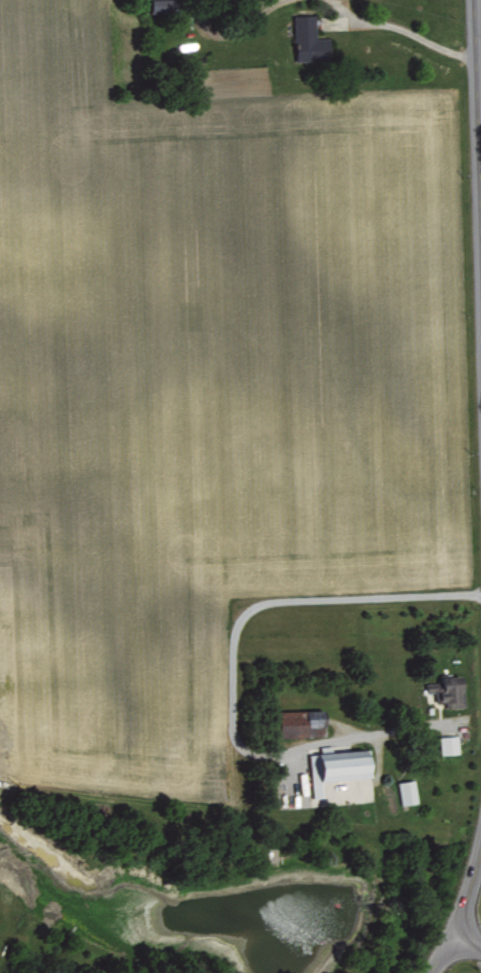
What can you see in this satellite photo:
building: (163, 5)
road: (406, 29)
building: (309, 39)
road: (477, 40)
road: (476, 279)
road: (480, 524)
road: (230, 671)
building: (448, 690)
building: (301, 723)
building: (449, 744)
building: (338, 767)
building: (407, 791)
road: (461, 918)
road: (468, 939)

